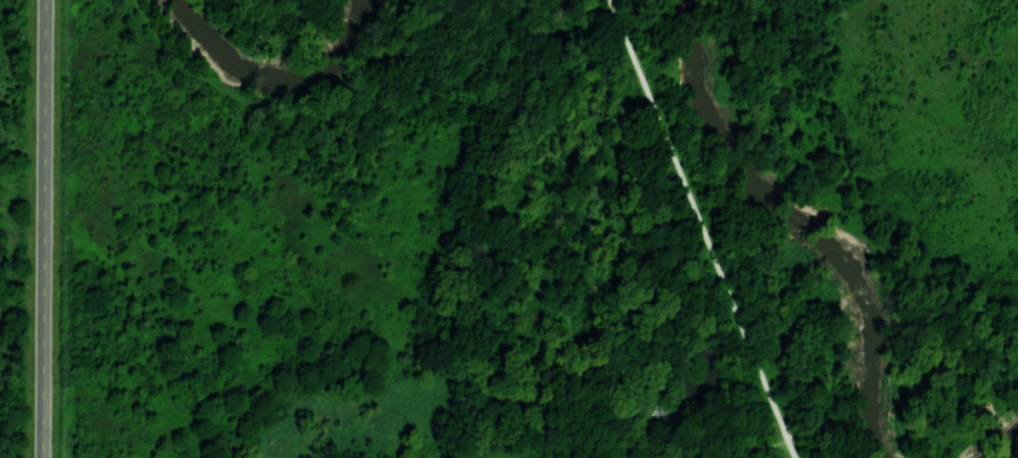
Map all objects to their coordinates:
river: (280, 78)
road: (507, 99)
river: (801, 225)
road: (702, 228)
road: (45, 229)
road: (826, 426)
river: (1004, 445)
road: (749, 449)

